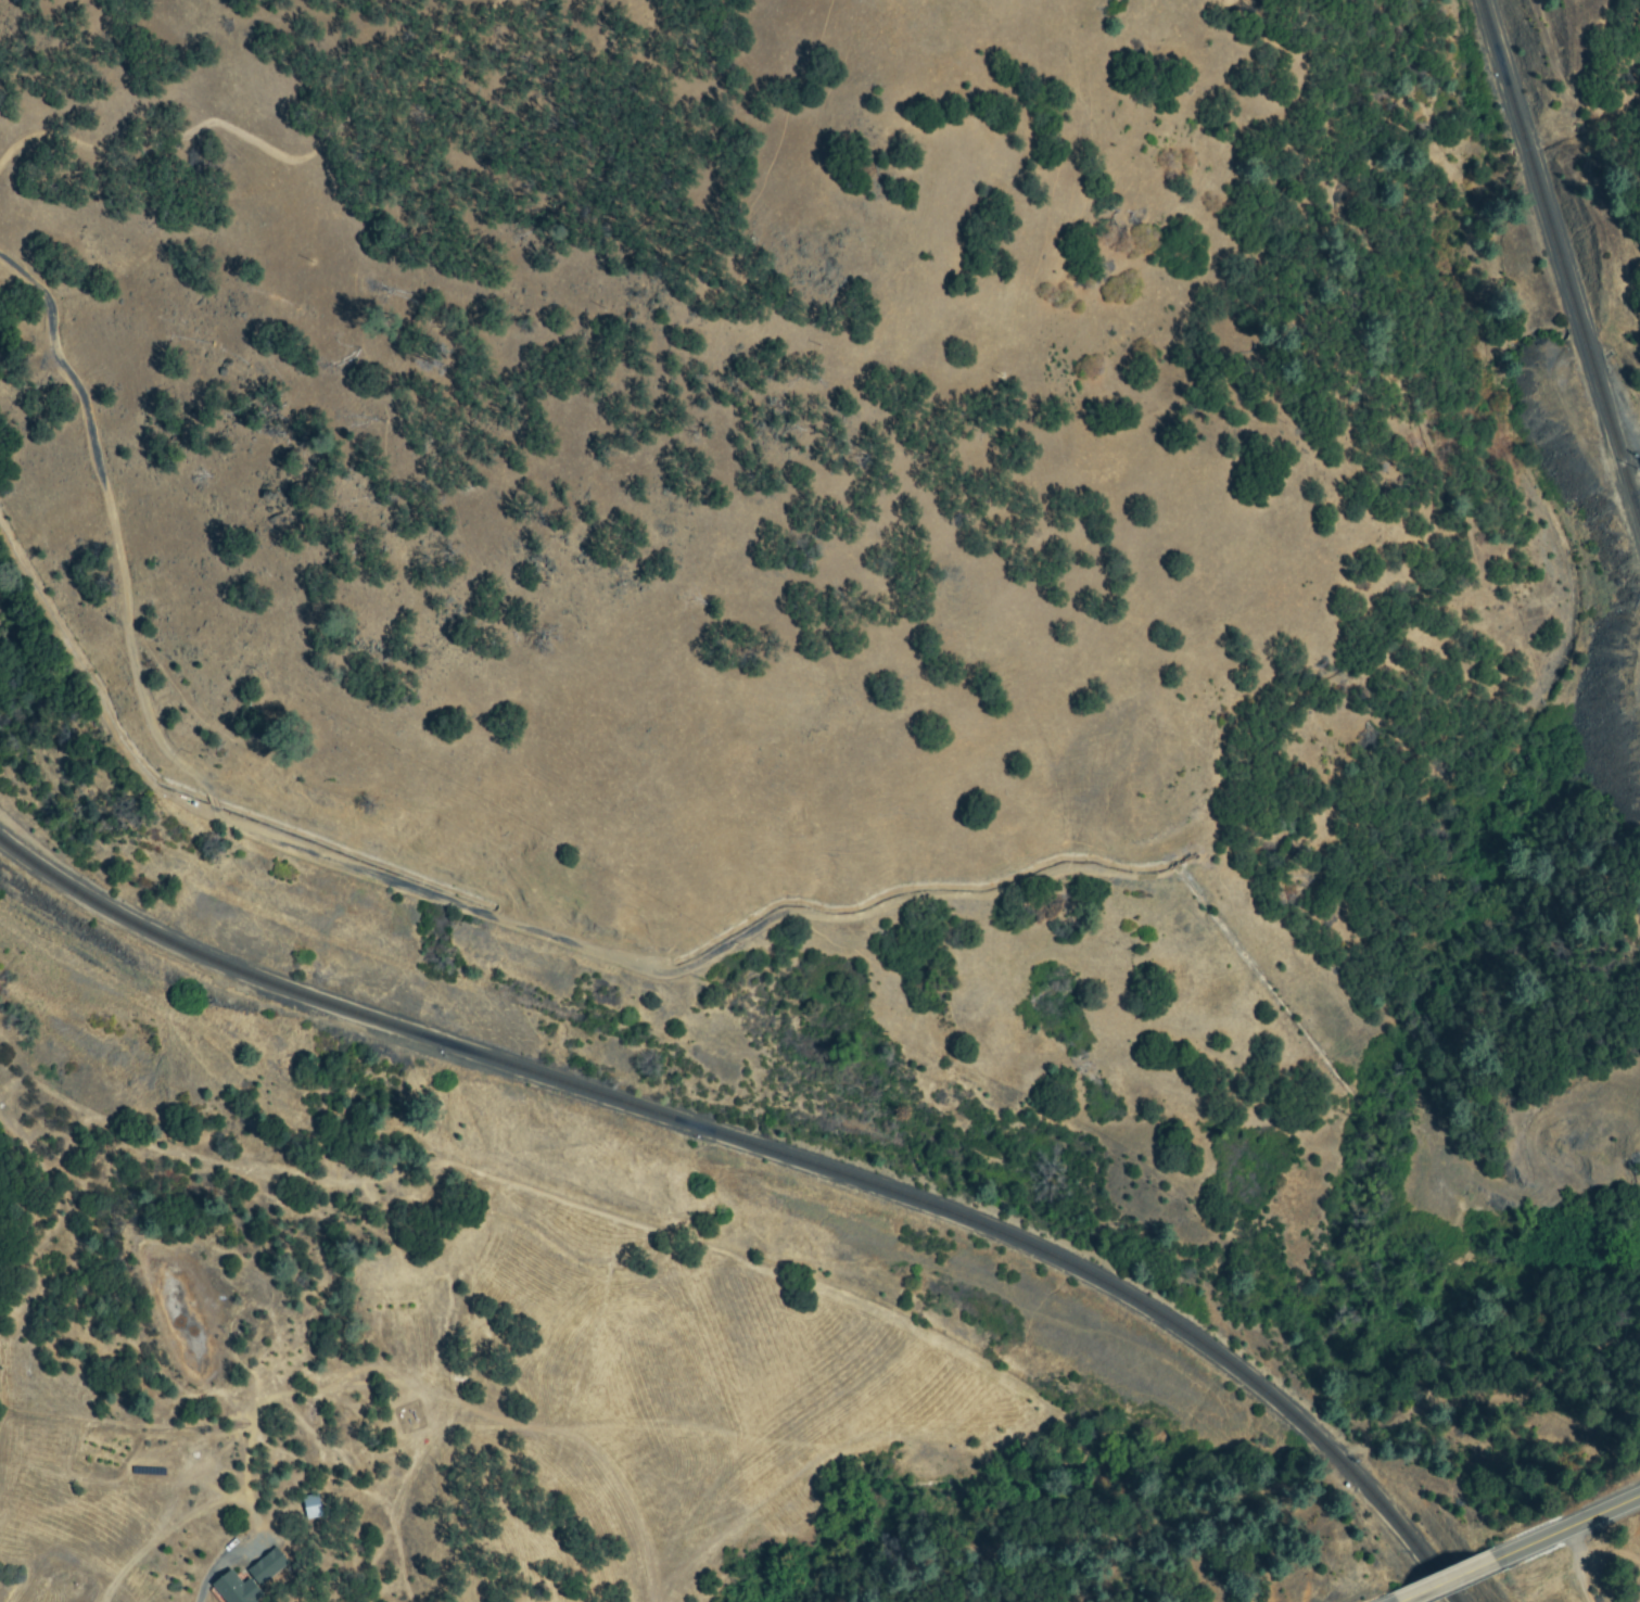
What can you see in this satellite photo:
railway: (1560, 259)
railway: (1627, 473)
railway: (775, 1150)
building: (310, 1509)
road: (1562, 1526)
building: (265, 1569)
road: (1437, 1581)
building: (233, 1590)

